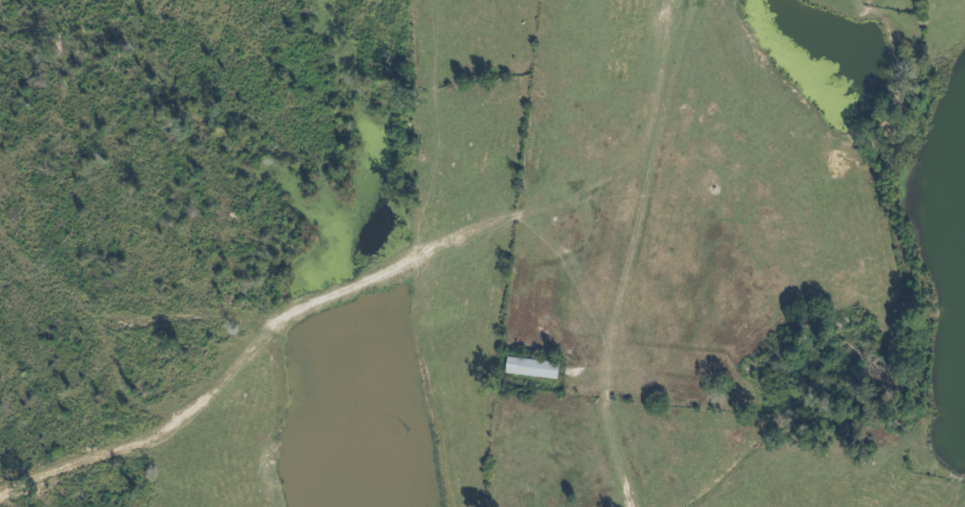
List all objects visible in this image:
building: (530, 365)

